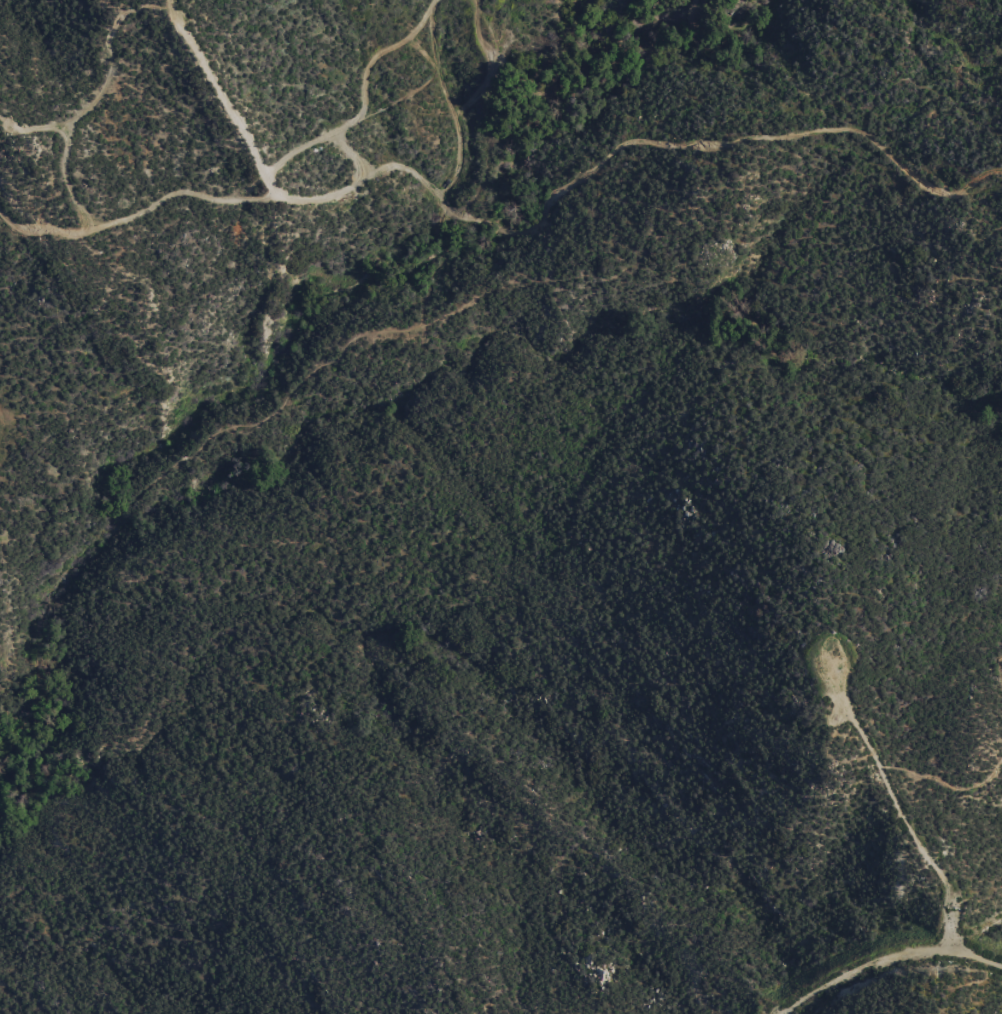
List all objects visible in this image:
road: (898, 811)
road: (888, 960)

